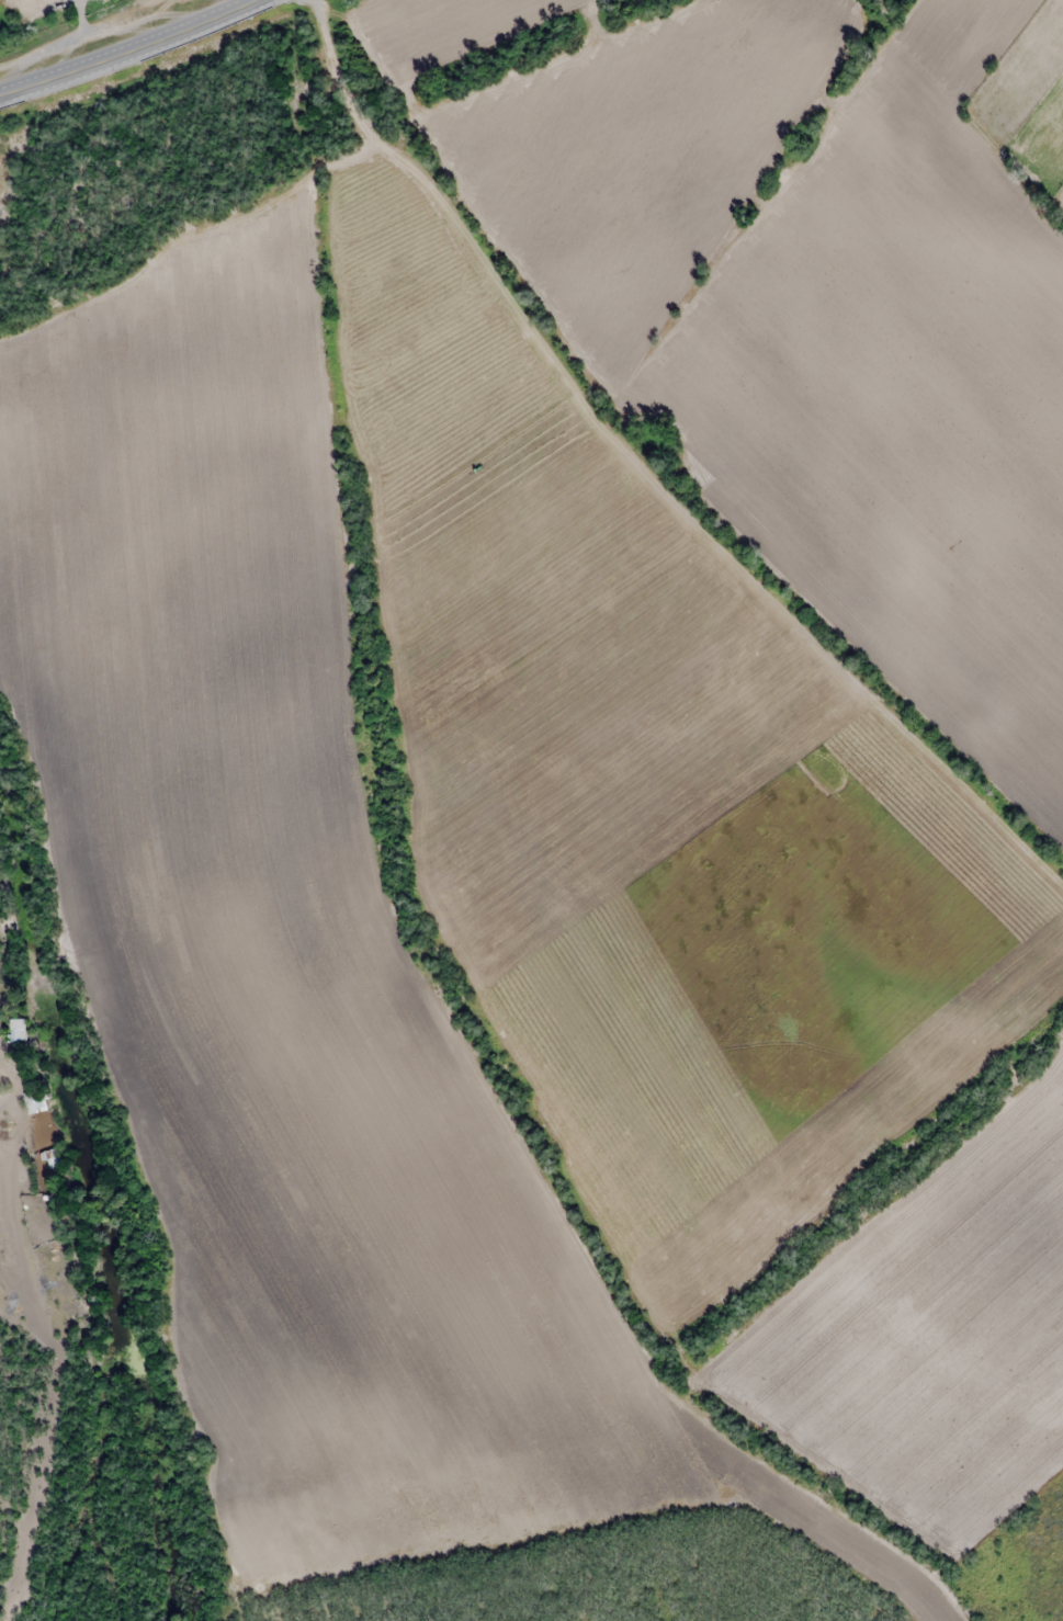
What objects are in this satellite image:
road: (122, 49)

